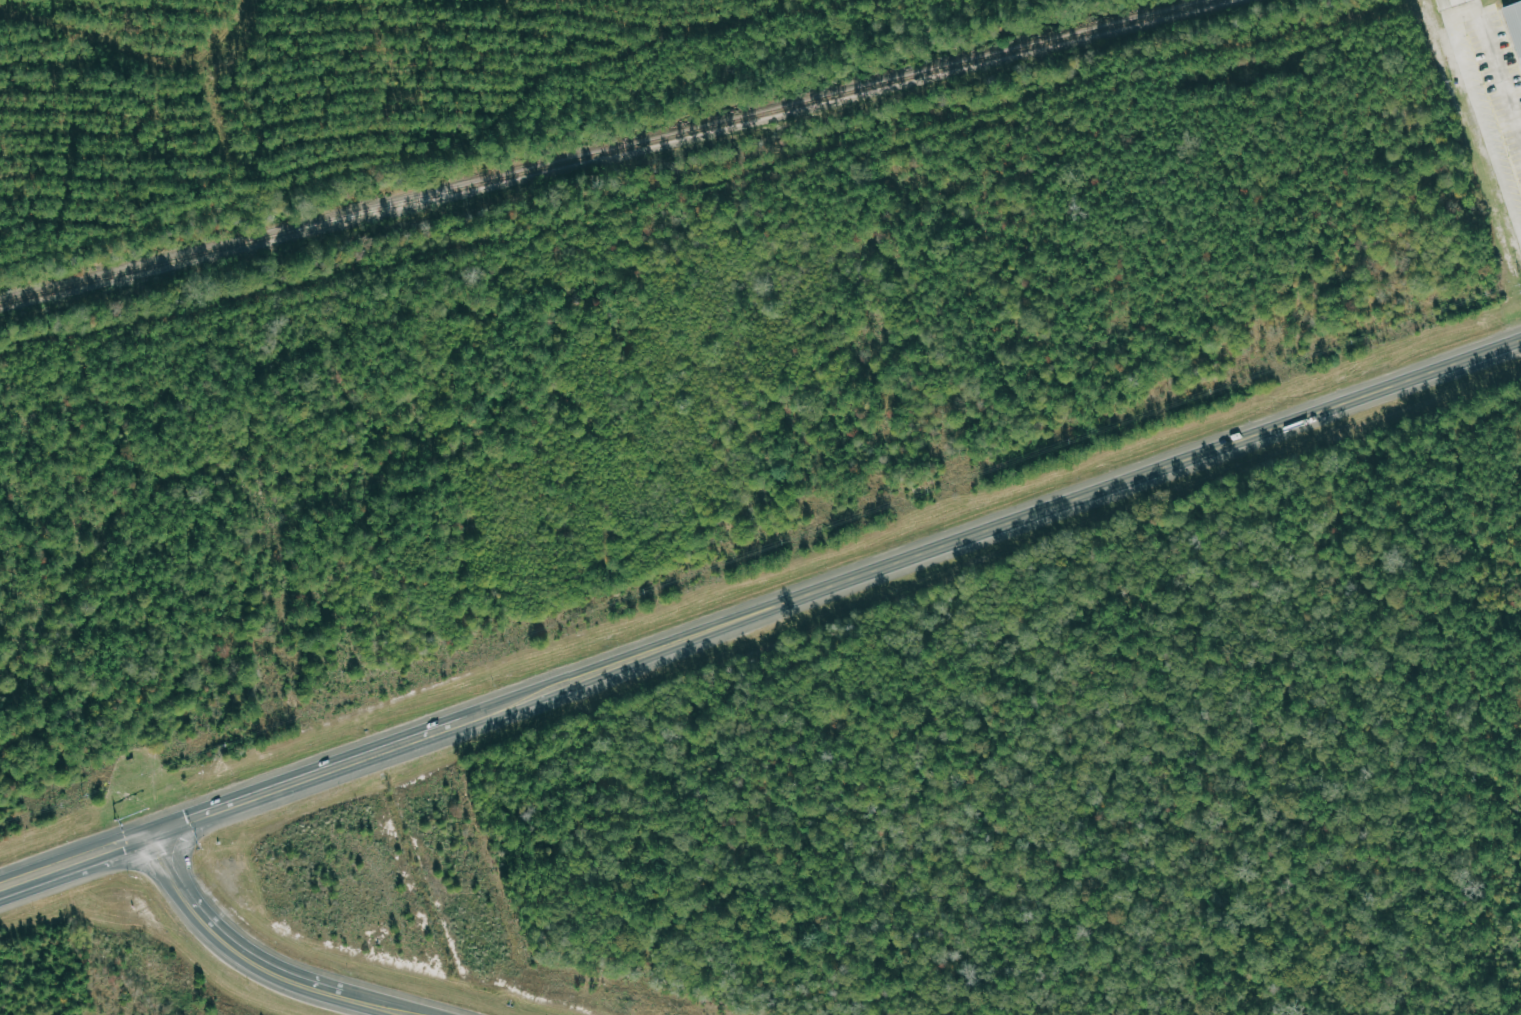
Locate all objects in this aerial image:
building: (1515, 24)
road: (1508, 66)
railway: (607, 151)
road: (1015, 520)
road: (333, 763)
traffic signals: (159, 833)
road: (187, 839)
road: (124, 845)
road: (138, 856)
road: (170, 857)
road: (45, 873)
road: (251, 955)
road: (383, 1004)

